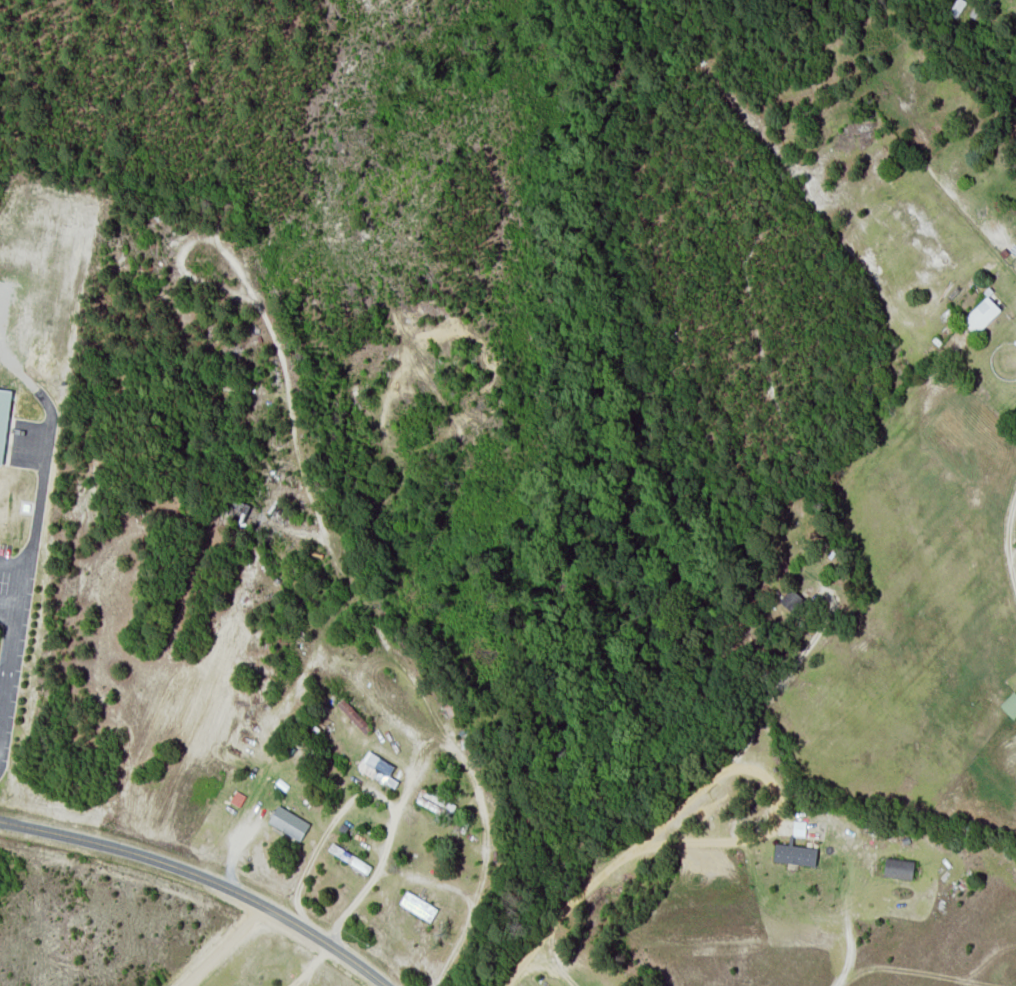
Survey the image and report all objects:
building: (955, 8)
building: (981, 314)
building: (3, 419)
road: (1007, 538)
road: (14, 561)
road: (25, 578)
building: (791, 600)
road: (10, 610)
building: (1010, 704)
road: (685, 798)
building: (288, 822)
building: (795, 854)
building: (898, 868)
road: (205, 876)
road: (225, 946)

